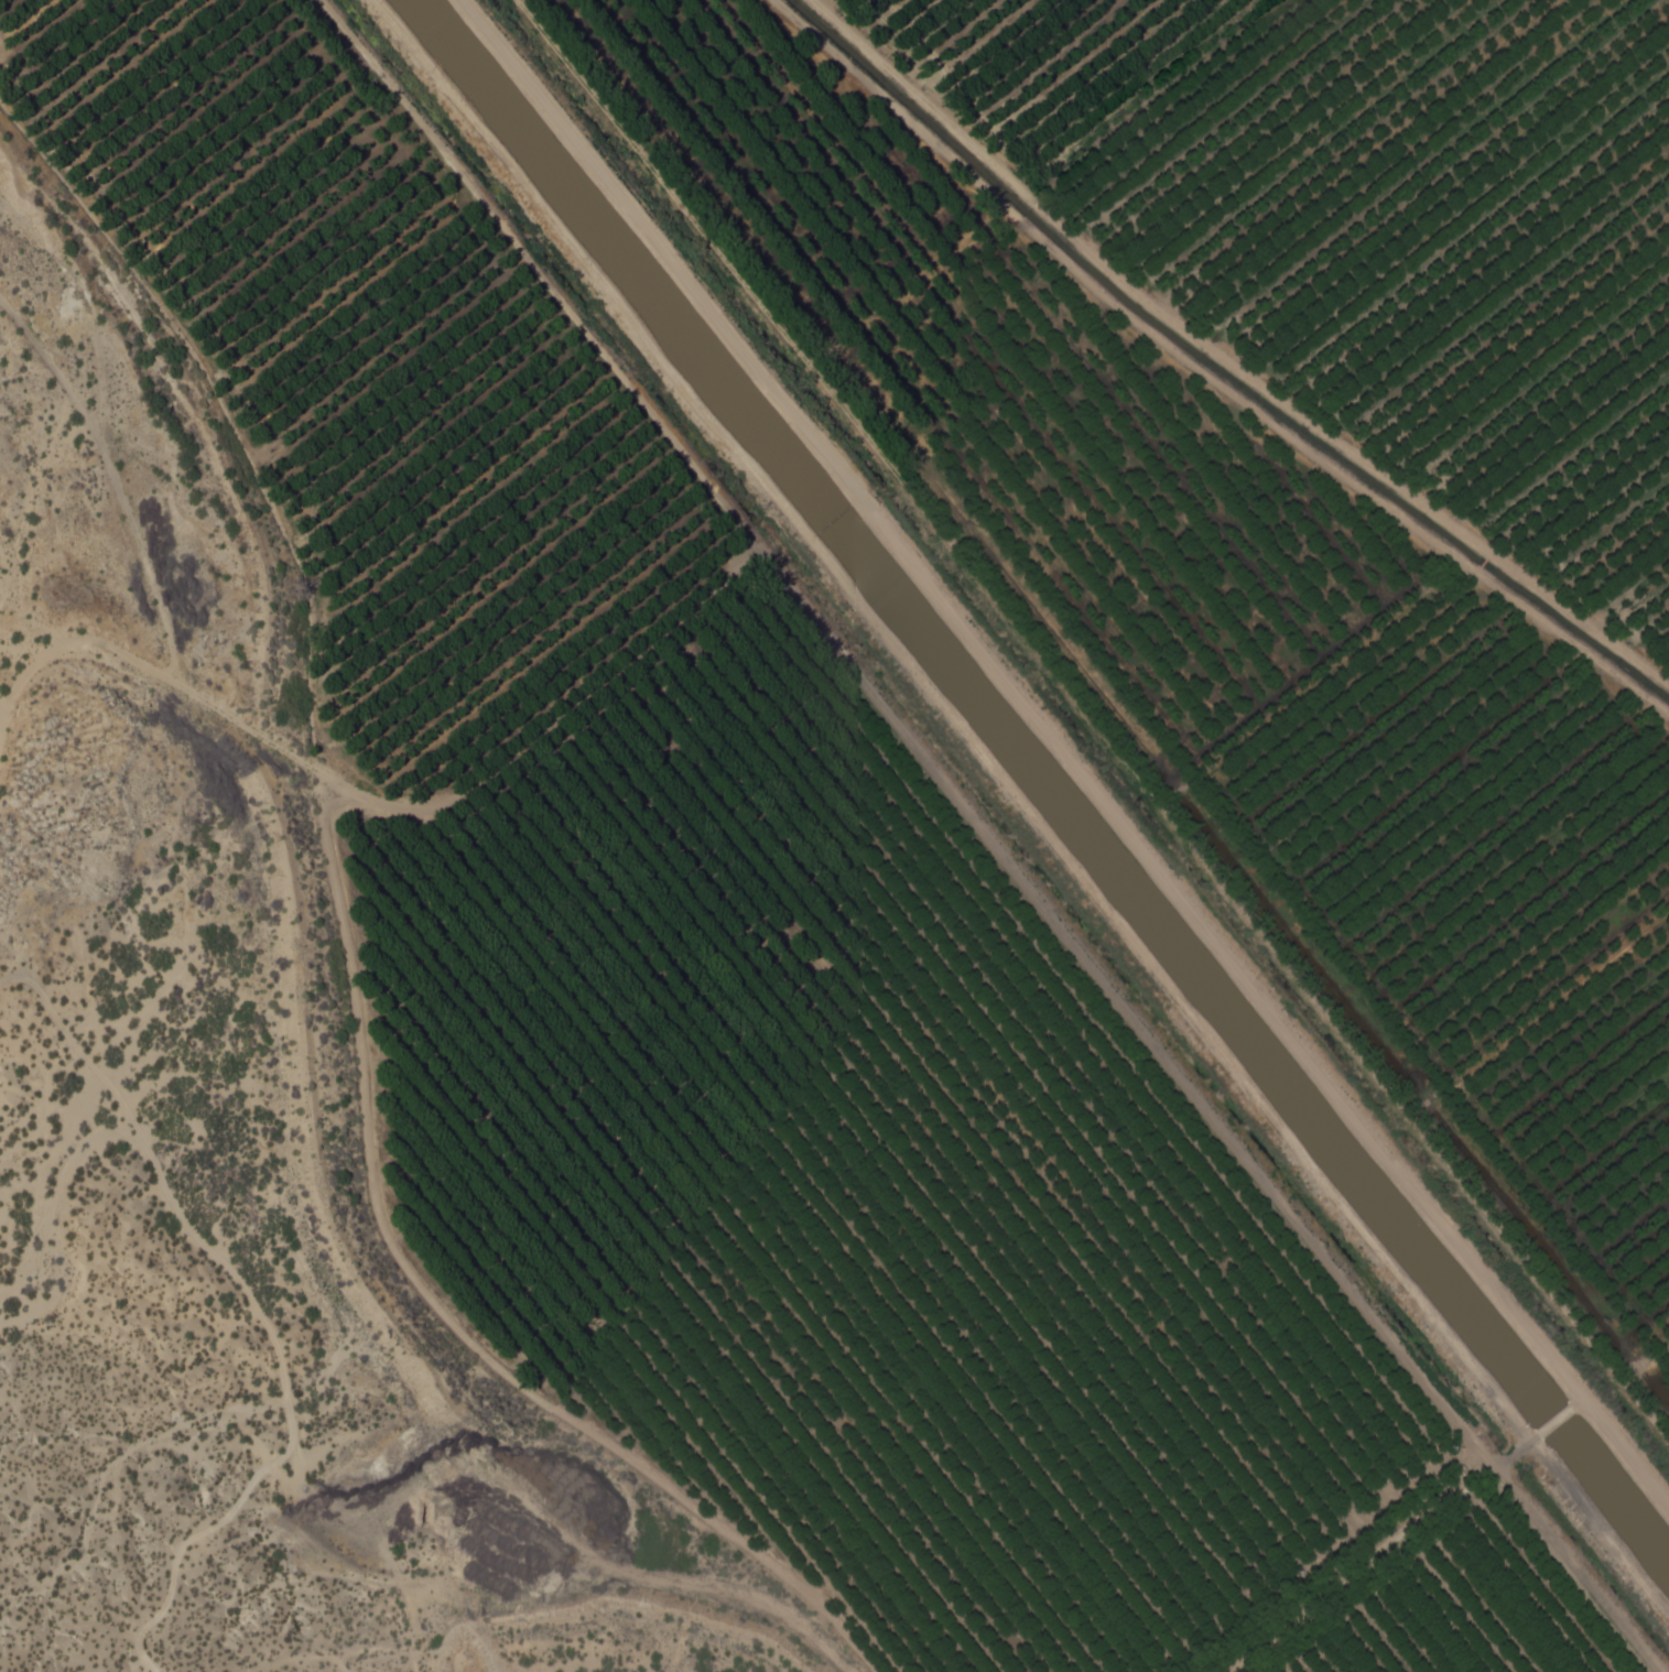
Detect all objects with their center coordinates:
road: (1224, 362)
road: (1066, 750)
road: (1022, 807)
road: (999, 833)

